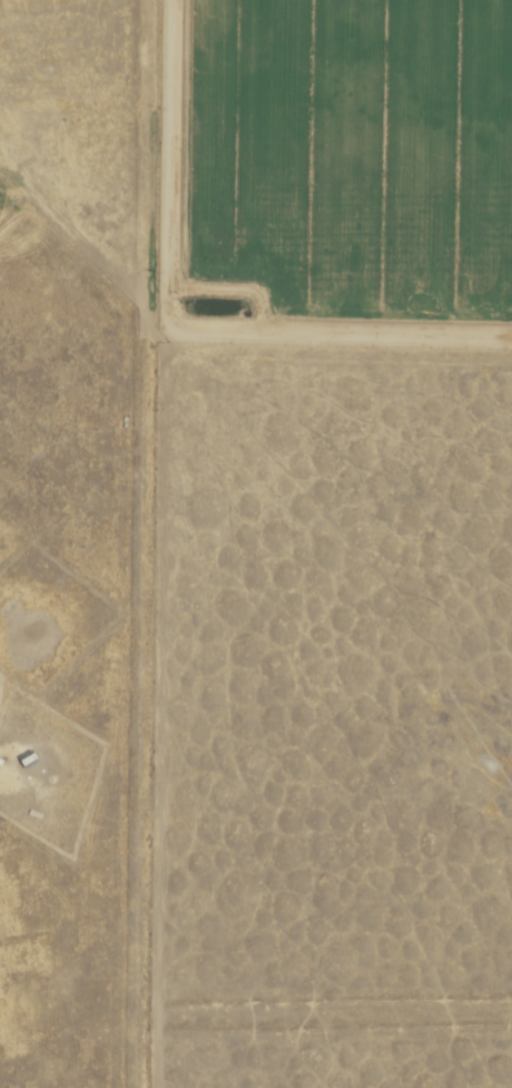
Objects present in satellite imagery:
crop: (338, 180)
crop: (10, 187)

